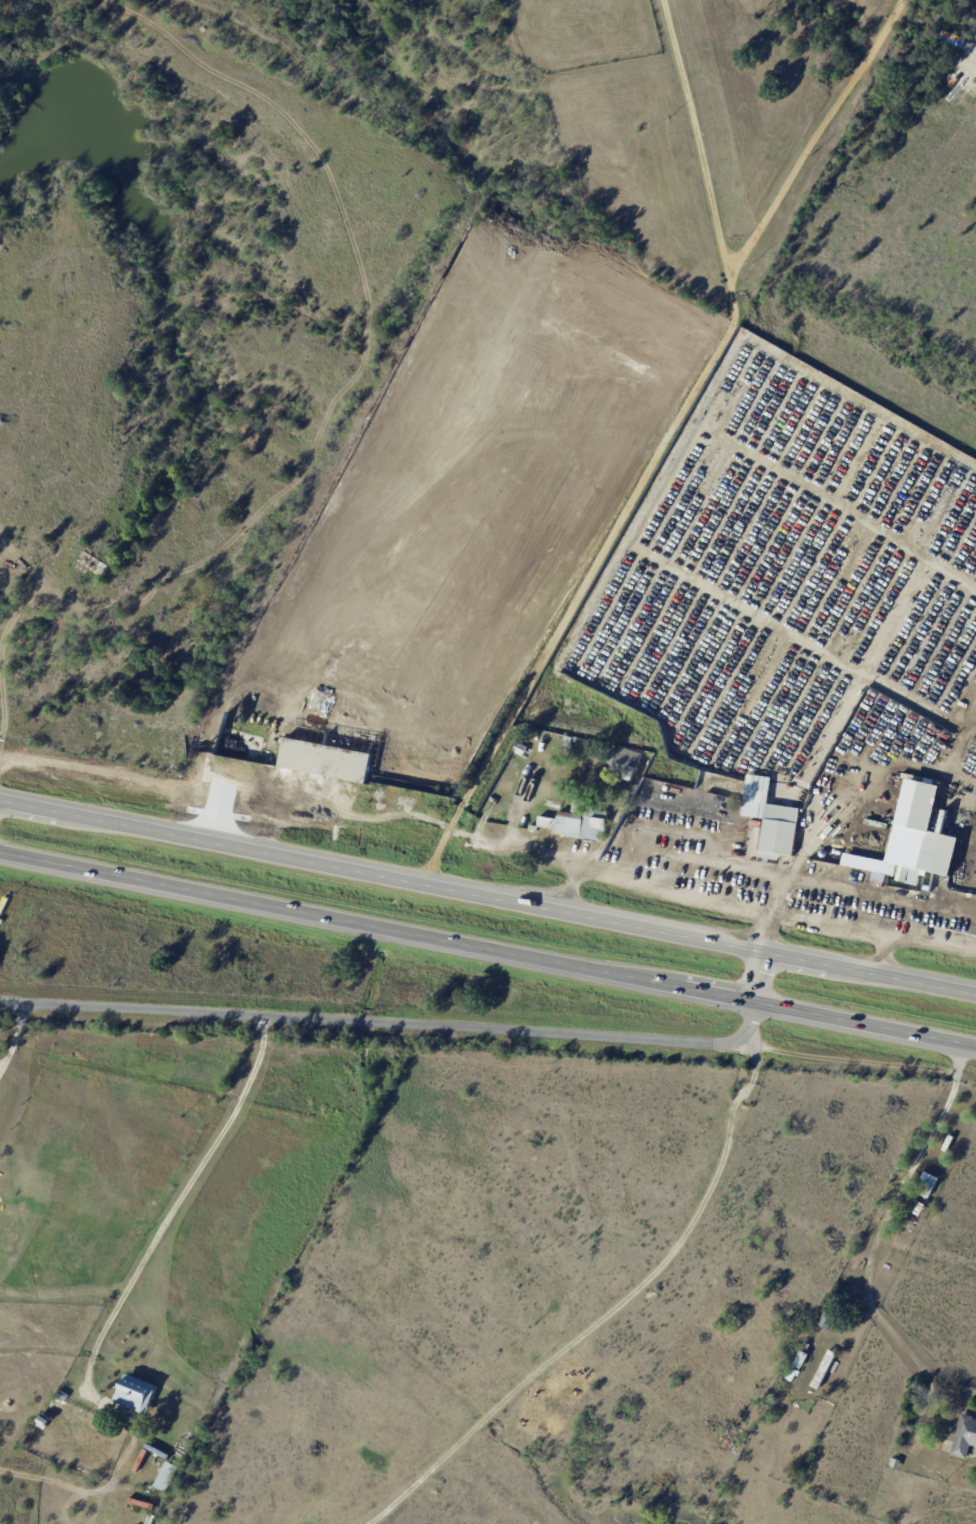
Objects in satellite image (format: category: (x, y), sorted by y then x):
road: (698, 133)
road: (816, 133)
building: (548, 353)
building: (535, 374)
building: (540, 389)
road: (589, 577)
road: (363, 591)
building: (276, 701)
building: (332, 702)
building: (235, 738)
building: (523, 749)
building: (332, 753)
building: (626, 762)
building: (413, 786)
road: (165, 792)
building: (771, 819)
building: (579, 823)
road: (262, 825)
building: (928, 837)
road: (515, 847)
building: (880, 854)
road: (809, 879)
road: (652, 890)
building: (929, 890)
road: (488, 895)
road: (770, 911)
road: (487, 949)
road: (418, 1026)
road: (15, 1041)
building: (928, 1184)
road: (176, 1207)
building: (921, 1207)
road: (887, 1214)
road: (611, 1310)
building: (828, 1320)
building: (808, 1347)
building: (804, 1359)
building: (826, 1369)
building: (794, 1375)
building: (41, 1380)
building: (136, 1395)
building: (64, 1396)
building: (966, 1437)
building: (895, 1463)
building: (168, 1477)

